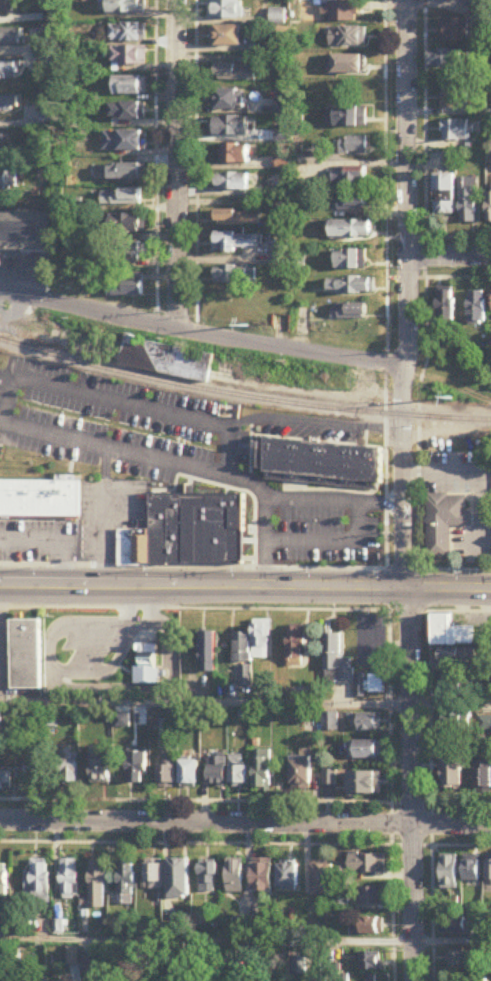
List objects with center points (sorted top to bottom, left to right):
building: (5, 6)
building: (126, 7)
building: (226, 10)
building: (341, 12)
building: (454, 31)
building: (127, 34)
building: (226, 37)
building: (348, 37)
building: (10, 38)
building: (129, 57)
building: (448, 59)
building: (347, 65)
building: (9, 72)
building: (235, 73)
building: (129, 87)
building: (454, 99)
building: (229, 100)
building: (8, 105)
building: (127, 113)
building: (347, 118)
building: (229, 127)
building: (456, 131)
building: (4, 141)
building: (123, 142)
building: (354, 146)
building: (236, 154)
building: (283, 164)
road: (178, 165)
building: (124, 173)
building: (348, 176)
building: (7, 180)
building: (231, 182)
building: (444, 195)
building: (121, 198)
building: (468, 201)
building: (347, 203)
building: (489, 205)
building: (237, 218)
building: (126, 224)
building: (351, 229)
building: (24, 233)
building: (238, 243)
building: (128, 253)
building: (283, 253)
road: (450, 258)
building: (351, 260)
building: (236, 275)
building: (124, 286)
building: (351, 286)
building: (445, 307)
building: (476, 308)
building: (349, 312)
road: (201, 334)
building: (165, 361)
railway: (242, 396)
road: (122, 401)
building: (80, 406)
road: (447, 418)
road: (314, 423)
road: (180, 462)
road: (476, 478)
building: (52, 479)
building: (225, 486)
road: (404, 490)
road: (334, 501)
road: (104, 515)
building: (444, 523)
road: (52, 537)
road: (192, 565)
road: (399, 566)
road: (452, 567)
road: (245, 588)
road: (196, 607)
road: (408, 610)
road: (457, 611)
building: (451, 634)
building: (253, 644)
road: (384, 644)
building: (296, 648)
building: (27, 653)
building: (207, 653)
building: (456, 657)
building: (148, 663)
building: (336, 663)
building: (245, 677)
building: (376, 685)
building: (453, 685)
road: (78, 687)
road: (204, 703)
road: (449, 703)
building: (1, 720)
building: (330, 723)
building: (456, 723)
building: (365, 724)
building: (364, 751)
building: (100, 766)
building: (67, 769)
building: (137, 769)
building: (166, 770)
building: (216, 772)
building: (262, 772)
building: (237, 773)
building: (301, 773)
building: (188, 775)
building: (33, 776)
building: (454, 777)
building: (5, 781)
building: (483, 782)
building: (365, 786)
road: (245, 824)
building: (367, 864)
building: (472, 871)
building: (489, 871)
building: (450, 874)
building: (153, 877)
building: (287, 877)
building: (234, 878)
building: (262, 878)
building: (70, 879)
building: (179, 879)
building: (208, 879)
building: (4, 880)
building: (323, 880)
building: (127, 881)
building: (39, 884)
building: (97, 886)
building: (371, 897)
building: (369, 926)
building: (459, 926)
road: (208, 940)
road: (453, 942)
building: (74, 957)
building: (141, 960)
building: (462, 960)
building: (371, 961)
building: (92, 965)
building: (179, 975)
building: (237, 979)
building: (208, 980)

